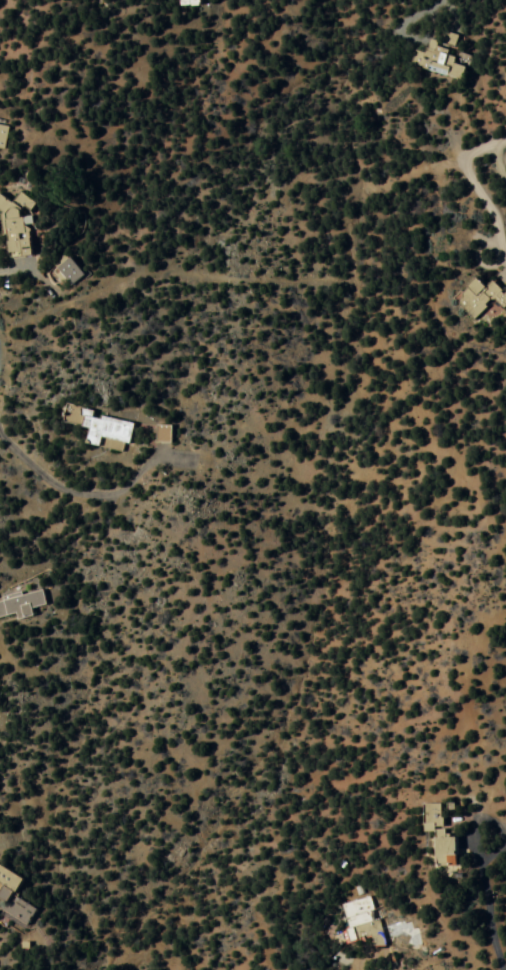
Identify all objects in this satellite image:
building: (188, 2)
road: (439, 4)
building: (440, 61)
building: (3, 136)
road: (430, 165)
road: (485, 206)
building: (16, 227)
building: (67, 271)
building: (481, 298)
building: (105, 426)
building: (166, 432)
road: (85, 490)
building: (21, 605)
building: (439, 837)
building: (14, 900)
building: (372, 924)
road: (384, 968)

